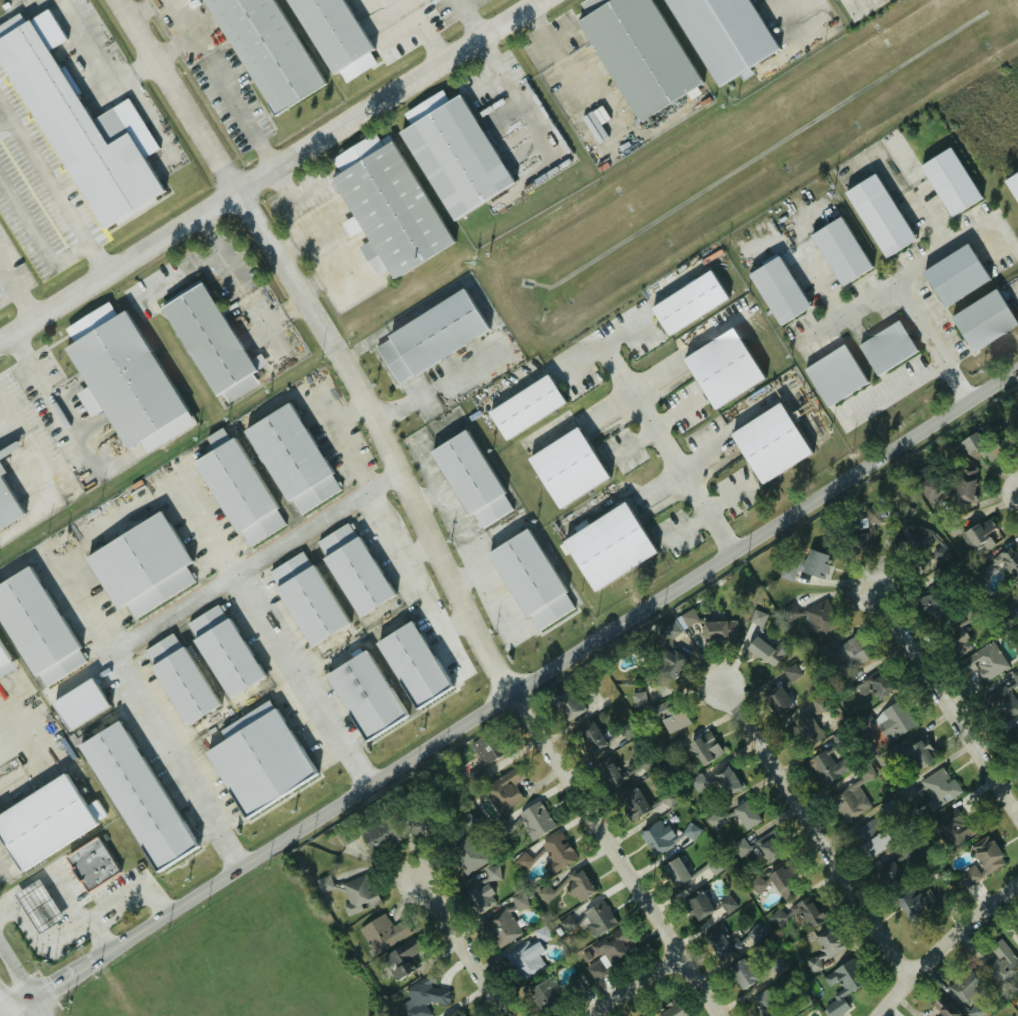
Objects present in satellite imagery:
road: (410, 4)
road: (139, 8)
road: (16, 9)
road: (804, 12)
road: (466, 18)
road: (197, 24)
road: (543, 32)
road: (428, 34)
building: (333, 36)
building: (720, 36)
road: (175, 41)
building: (264, 50)
building: (636, 53)
road: (133, 69)
road: (111, 80)
road: (508, 91)
road: (581, 93)
road: (243, 106)
road: (3, 114)
building: (75, 130)
building: (453, 153)
road: (269, 167)
road: (49, 173)
building: (947, 181)
road: (279, 184)
building: (1012, 184)
building: (385, 206)
road: (932, 220)
building: (882, 223)
road: (36, 241)
road: (337, 244)
road: (222, 247)
building: (838, 250)
road: (945, 250)
road: (97, 255)
building: (951, 275)
road: (15, 286)
road: (825, 286)
building: (776, 289)
road: (903, 294)
building: (684, 303)
building: (981, 320)
building: (427, 336)
road: (330, 338)
building: (208, 343)
building: (885, 347)
road: (24, 360)
road: (465, 368)
building: (718, 368)
building: (118, 374)
building: (833, 375)
road: (896, 389)
road: (403, 405)
building: (521, 407)
road: (350, 409)
building: (1017, 417)
road: (57, 425)
road: (346, 437)
building: (767, 443)
building: (967, 444)
road: (665, 446)
building: (990, 446)
building: (0, 454)
building: (287, 459)
building: (562, 468)
building: (0, 472)
road: (47, 476)
building: (466, 479)
building: (964, 484)
building: (931, 488)
building: (234, 490)
building: (6, 507)
road: (206, 525)
building: (952, 527)
building: (865, 531)
building: (978, 536)
building: (604, 547)
road: (420, 549)
road: (252, 559)
building: (1009, 563)
building: (814, 564)
building: (137, 567)
building: (919, 569)
building: (349, 570)
road: (413, 580)
building: (1017, 583)
building: (516, 589)
building: (1017, 595)
building: (303, 599)
building: (934, 605)
road: (83, 615)
building: (820, 618)
road: (459, 622)
building: (668, 628)
building: (34, 629)
building: (719, 630)
building: (958, 634)
building: (765, 651)
building: (220, 652)
building: (853, 652)
building: (667, 661)
building: (984, 662)
building: (4, 665)
building: (408, 665)
road: (552, 669)
building: (791, 672)
road: (303, 677)
building: (177, 679)
building: (874, 686)
building: (361, 695)
building: (637, 699)
building: (1005, 699)
building: (777, 700)
building: (567, 703)
road: (944, 704)
building: (74, 705)
building: (670, 715)
building: (896, 718)
building: (865, 722)
building: (625, 729)
building: (806, 730)
building: (590, 737)
building: (1015, 737)
road: (20, 744)
building: (693, 749)
building: (918, 754)
building: (477, 757)
road: (175, 760)
building: (254, 760)
building: (825, 767)
building: (608, 769)
building: (698, 781)
building: (726, 781)
building: (937, 788)
building: (502, 790)
building: (906, 792)
building: (132, 796)
building: (634, 802)
building: (849, 802)
building: (745, 814)
building: (534, 820)
building: (41, 822)
building: (953, 827)
building: (413, 828)
building: (690, 831)
building: (377, 835)
road: (816, 835)
building: (657, 837)
building: (872, 837)
building: (464, 845)
building: (740, 848)
building: (768, 849)
building: (547, 853)
road: (621, 854)
building: (980, 861)
road: (4, 864)
building: (88, 864)
building: (675, 871)
building: (490, 874)
road: (53, 875)
building: (891, 877)
building: (781, 882)
building: (576, 885)
building: (358, 893)
building: (481, 897)
building: (518, 901)
building: (910, 902)
building: (942, 903)
building: (34, 907)
building: (708, 907)
building: (807, 912)
building: (777, 917)
building: (592, 919)
road: (77, 924)
building: (501, 927)
building: (383, 932)
building: (1017, 932)
road: (100, 933)
building: (754, 934)
building: (720, 941)
road: (945, 947)
building: (825, 948)
road: (467, 949)
building: (609, 953)
building: (403, 959)
building: (527, 959)
building: (776, 964)
building: (1003, 965)
road: (17, 971)
building: (742, 973)
road: (59, 983)
road: (638, 985)
building: (841, 985)
building: (573, 989)
building: (969, 992)
building: (544, 994)
building: (423, 996)
traffic signals: (34, 999)
building: (1016, 1000)
building: (779, 1002)
road: (4, 1006)
road: (21, 1006)
road: (39, 1007)
building: (943, 1007)
building: (671, 1010)
traffic signals: (9, 1013)
building: (454, 1013)
road: (9, 1014)

